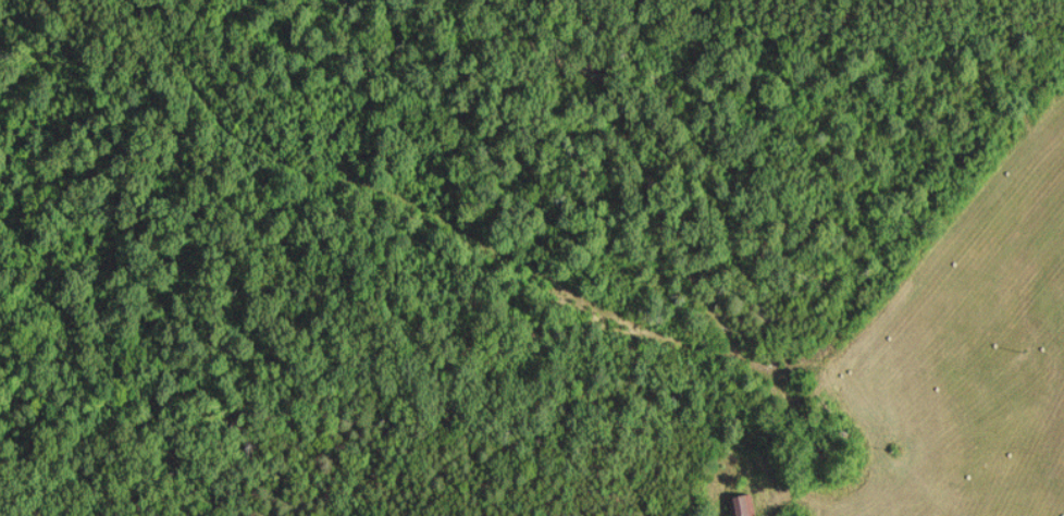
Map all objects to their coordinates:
road: (932, 188)
building: (751, 506)

